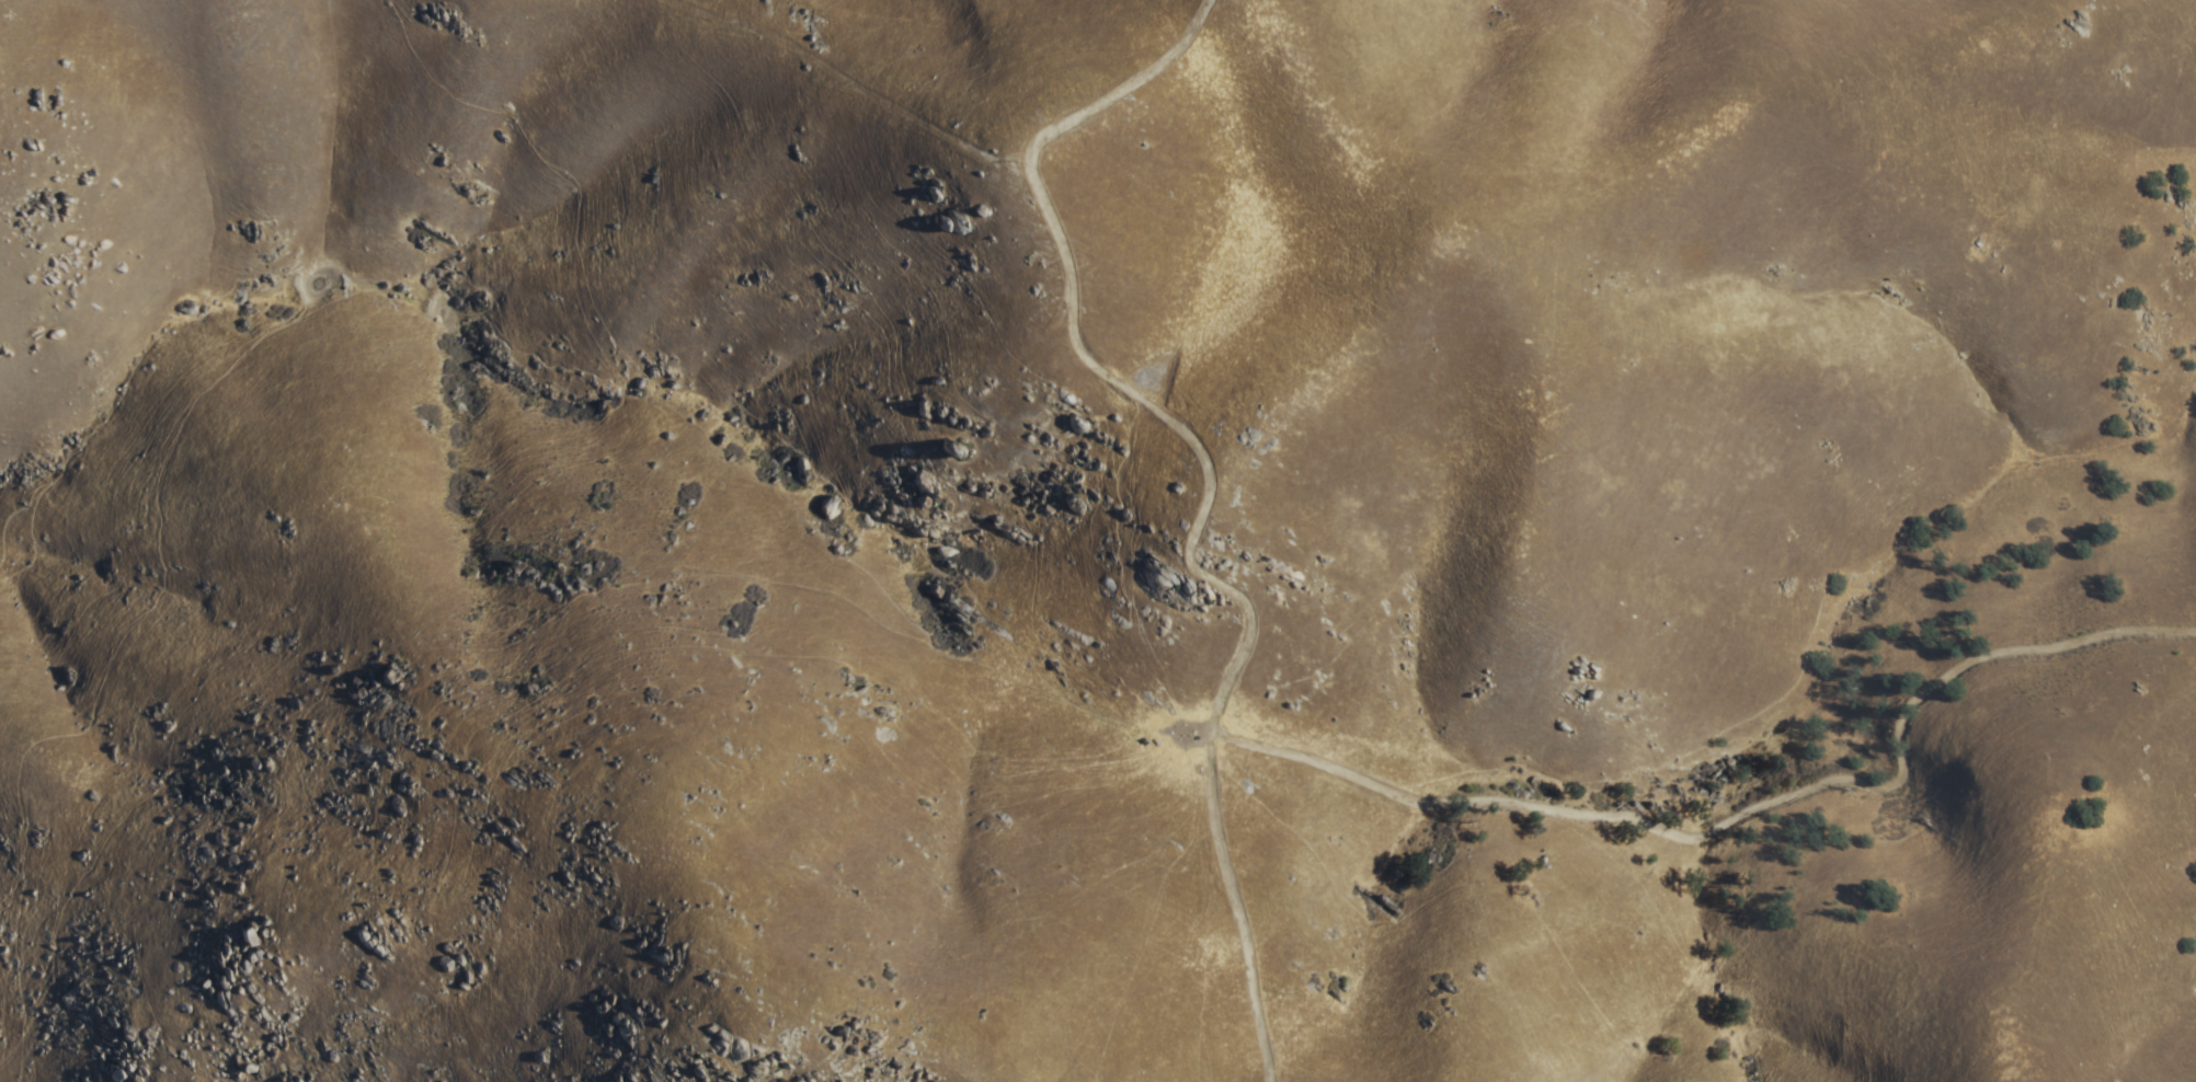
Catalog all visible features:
building: (1075, 427)
building: (952, 453)
building: (830, 511)

